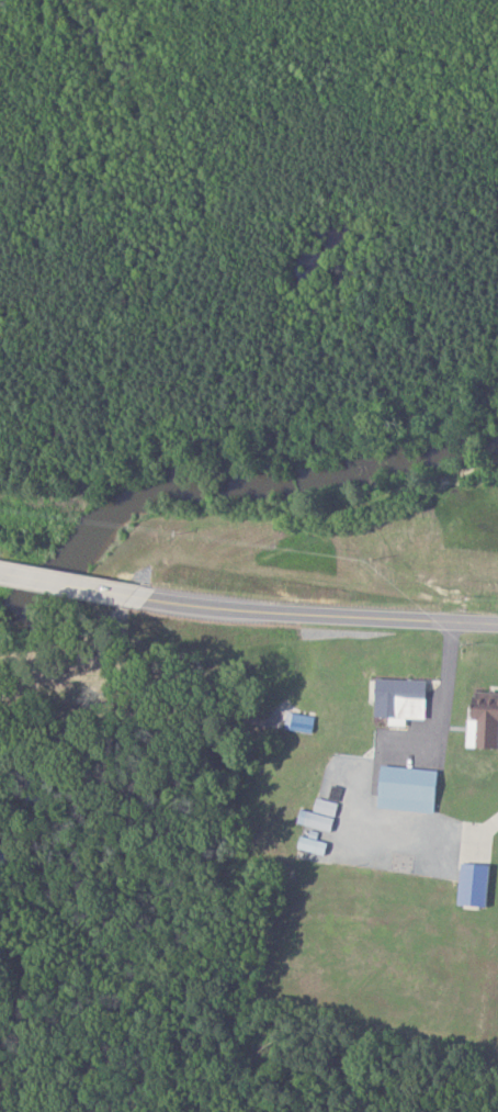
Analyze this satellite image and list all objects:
road: (57, 583)
road: (306, 611)
building: (395, 698)
building: (480, 720)
road: (369, 764)
building: (403, 789)
building: (315, 816)
building: (467, 885)

